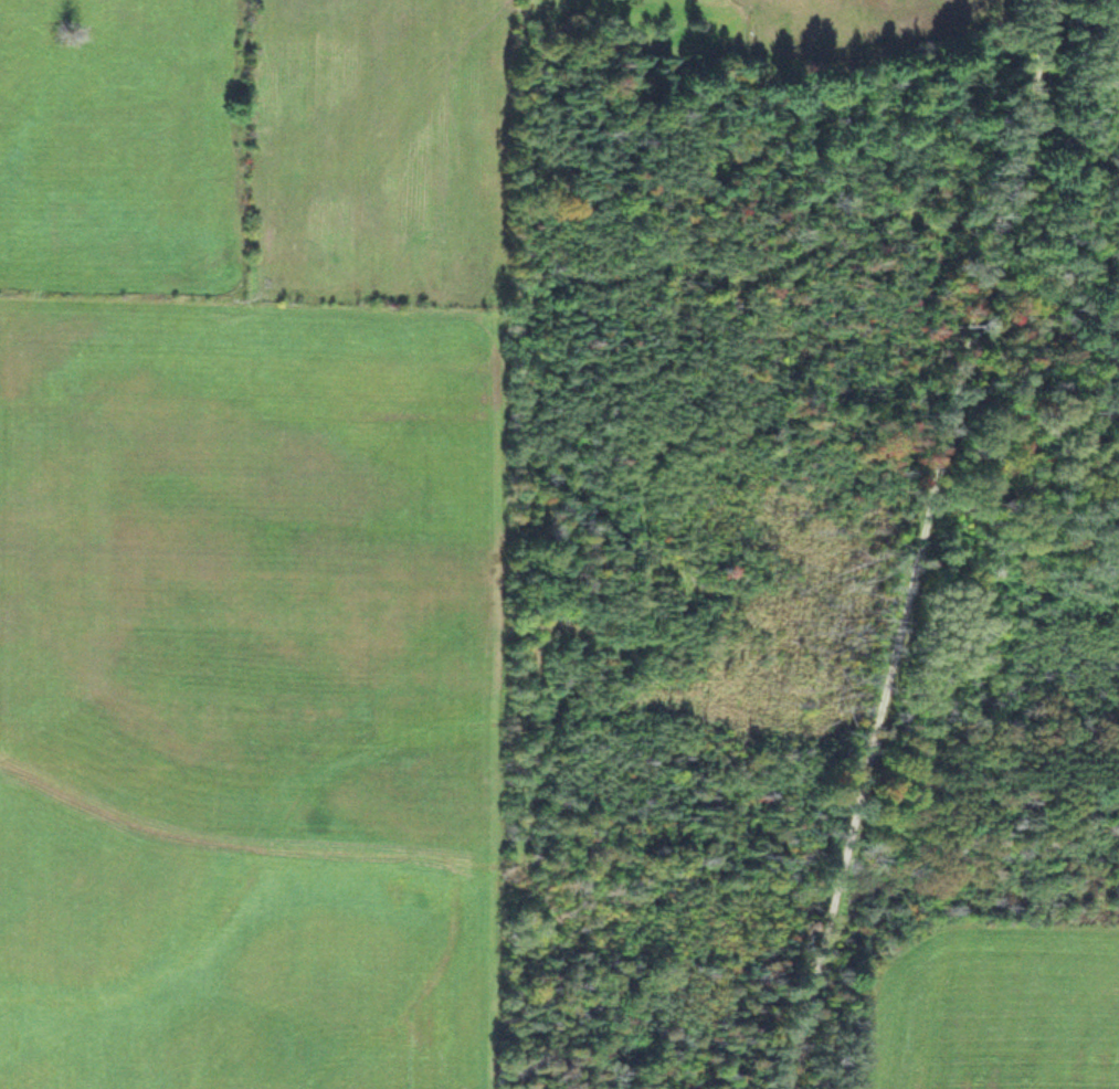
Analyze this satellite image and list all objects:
road: (917, 544)

